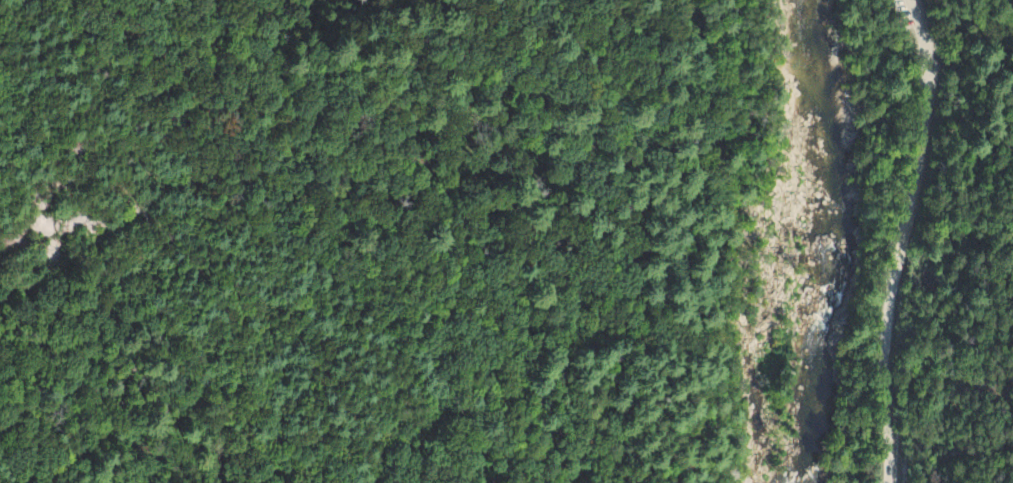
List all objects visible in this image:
road: (906, 240)
river: (829, 242)

